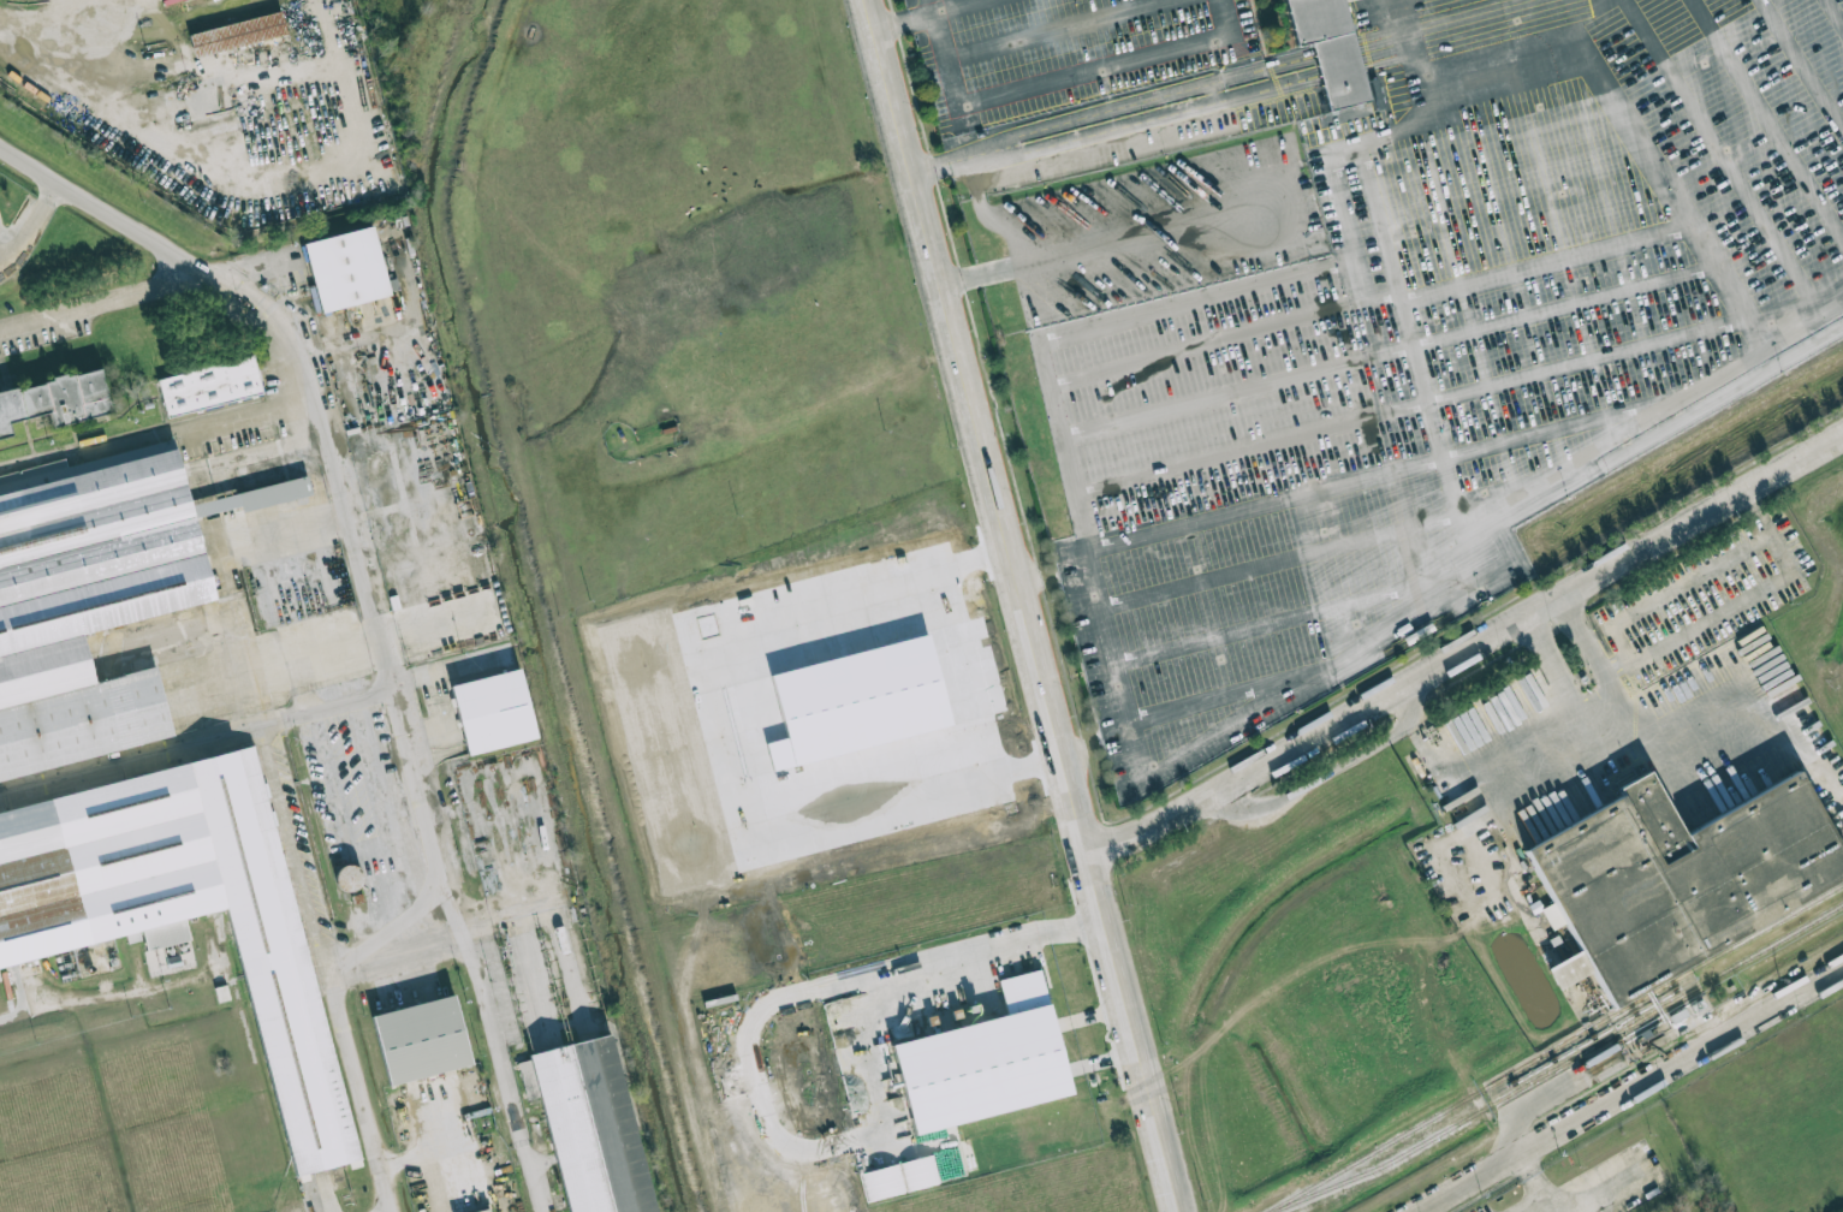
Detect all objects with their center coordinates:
road: (937, 7)
road: (967, 7)
road: (132, 14)
road: (1589, 14)
road: (905, 23)
road: (147, 24)
road: (1056, 29)
building: (237, 34)
road: (24, 42)
building: (1331, 47)
road: (1066, 84)
road: (263, 172)
road: (976, 188)
road: (1690, 216)
road: (29, 227)
road: (1110, 240)
road: (168, 269)
building: (346, 269)
road: (87, 303)
building: (209, 386)
road: (1425, 391)
building: (55, 399)
road: (1754, 510)
road: (1093, 533)
road: (1762, 537)
road: (1779, 554)
building: (90, 600)
road: (1022, 605)
road: (1545, 611)
road: (1582, 644)
road: (1466, 647)
road: (1552, 660)
road: (1732, 691)
road: (1589, 694)
building: (493, 712)
road: (255, 736)
road: (283, 762)
road: (1461, 766)
road: (1502, 800)
road: (429, 804)
building: (349, 878)
building: (1678, 880)
road: (404, 957)
road: (811, 993)
road: (113, 996)
building: (422, 1042)
railway: (1554, 1047)
building: (985, 1062)
railway: (1560, 1063)
building: (302, 1070)
road: (1633, 1091)
building: (591, 1128)
road: (1534, 1178)
road: (1616, 1192)
road: (1548, 1202)
building: (483, 1210)

